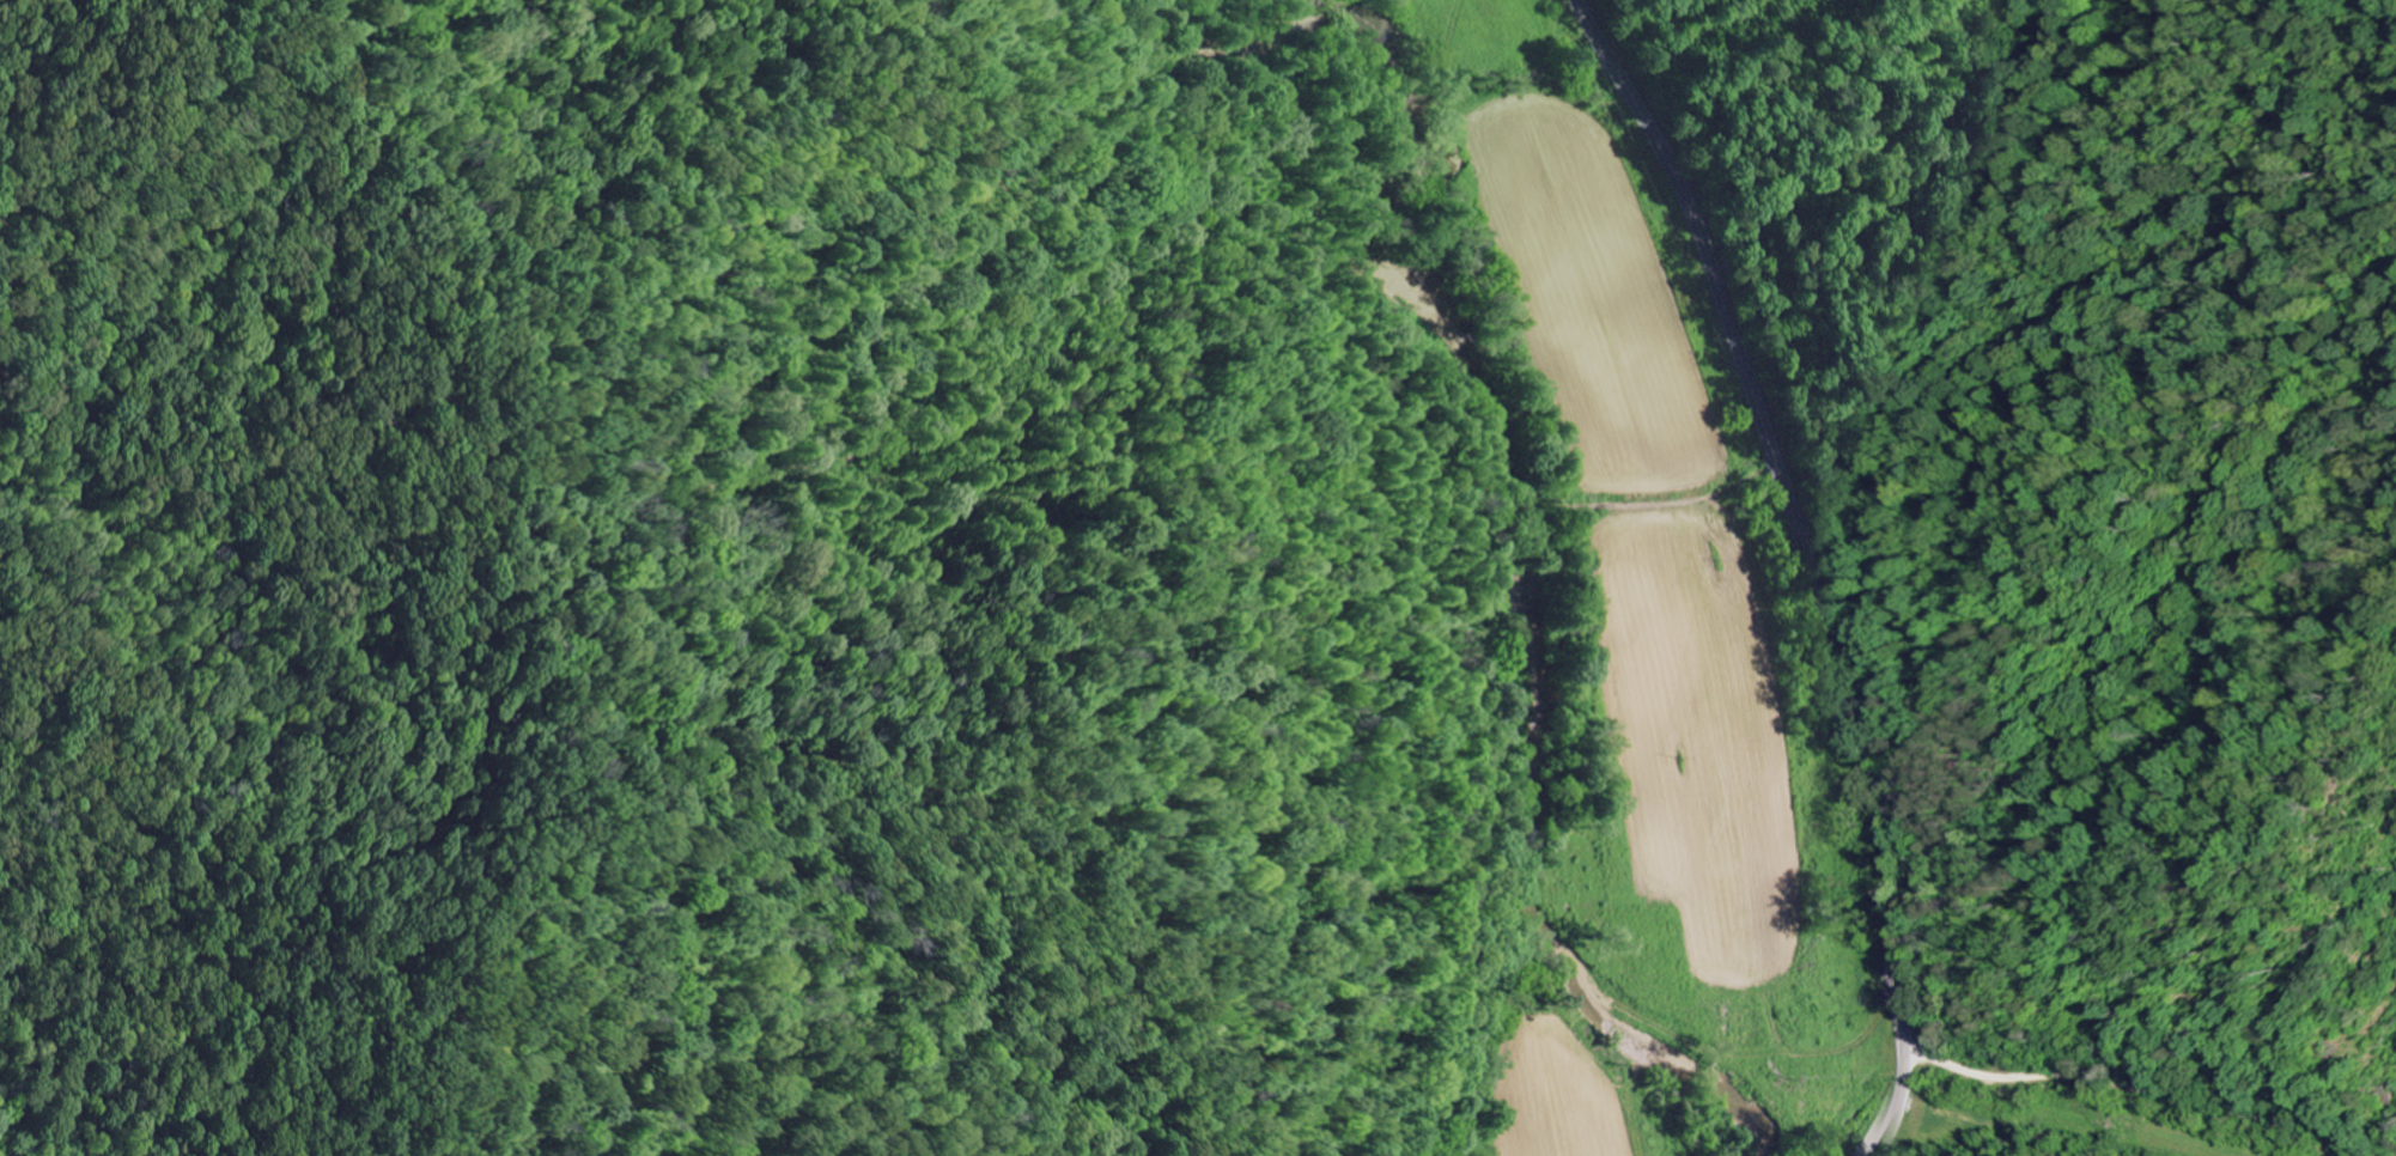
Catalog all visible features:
road: (1811, 562)
road: (2149, 1089)

